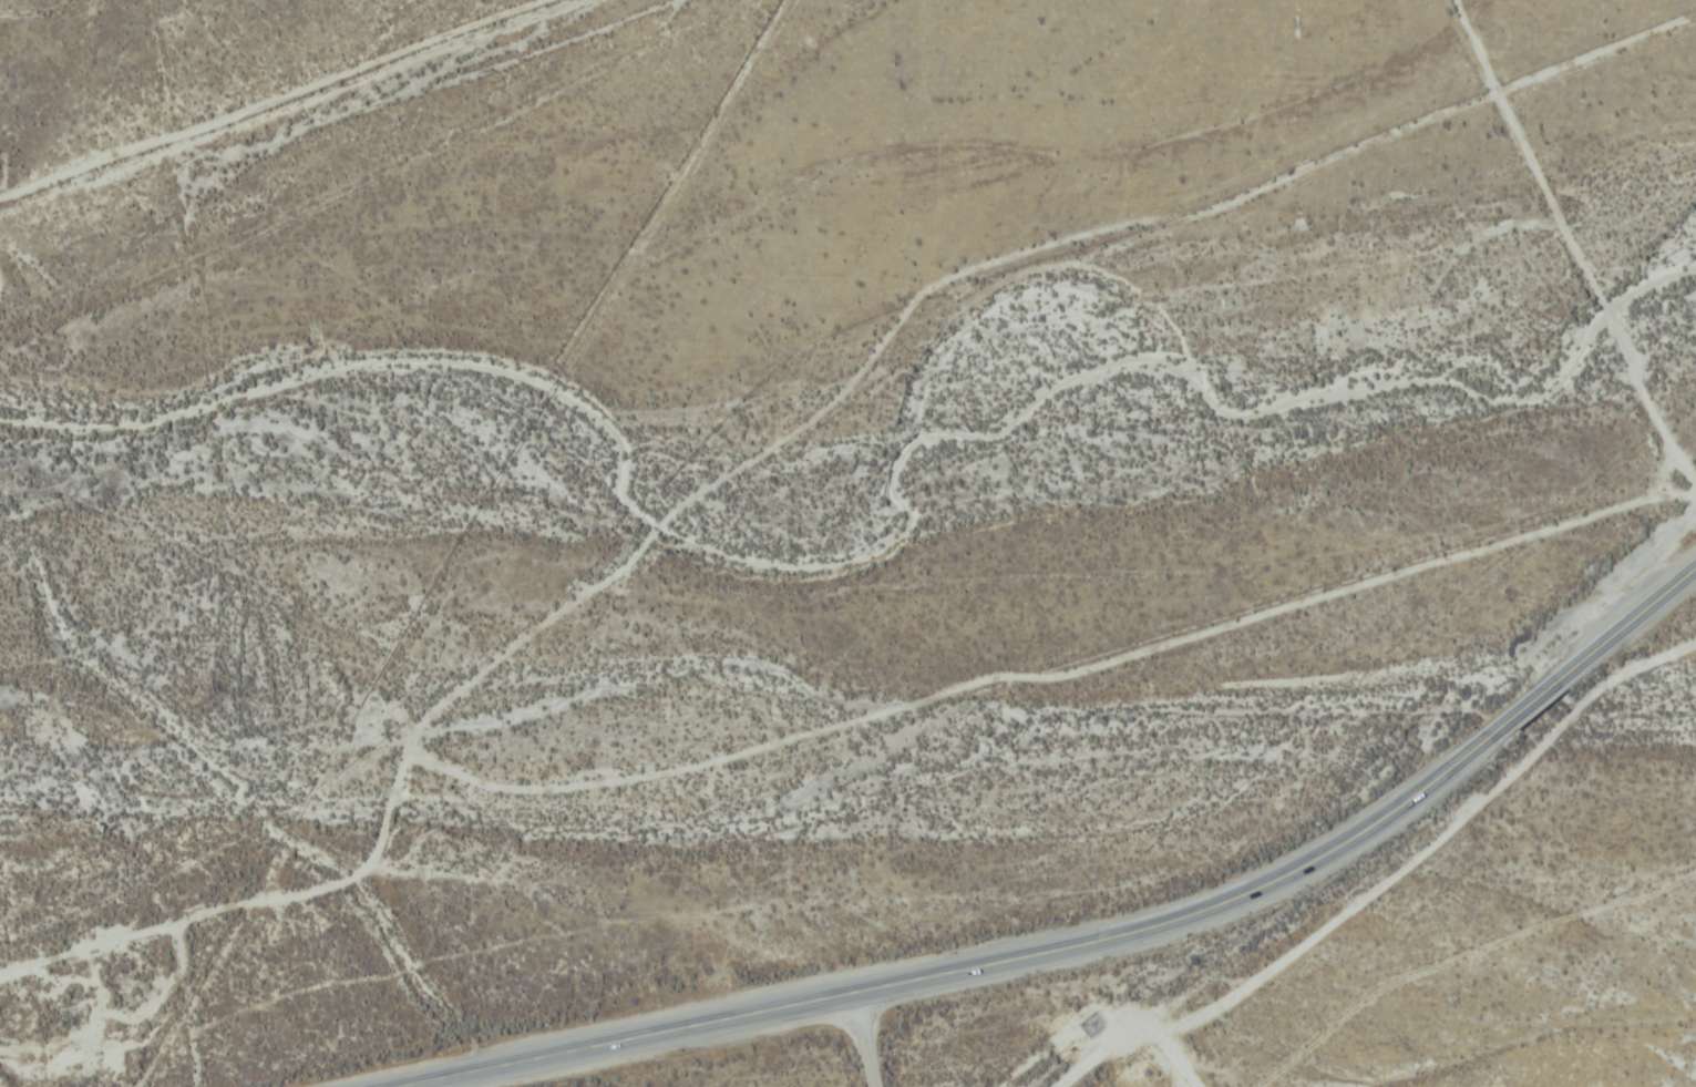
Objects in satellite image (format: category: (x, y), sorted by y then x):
road: (1091, 943)
road: (861, 1038)

